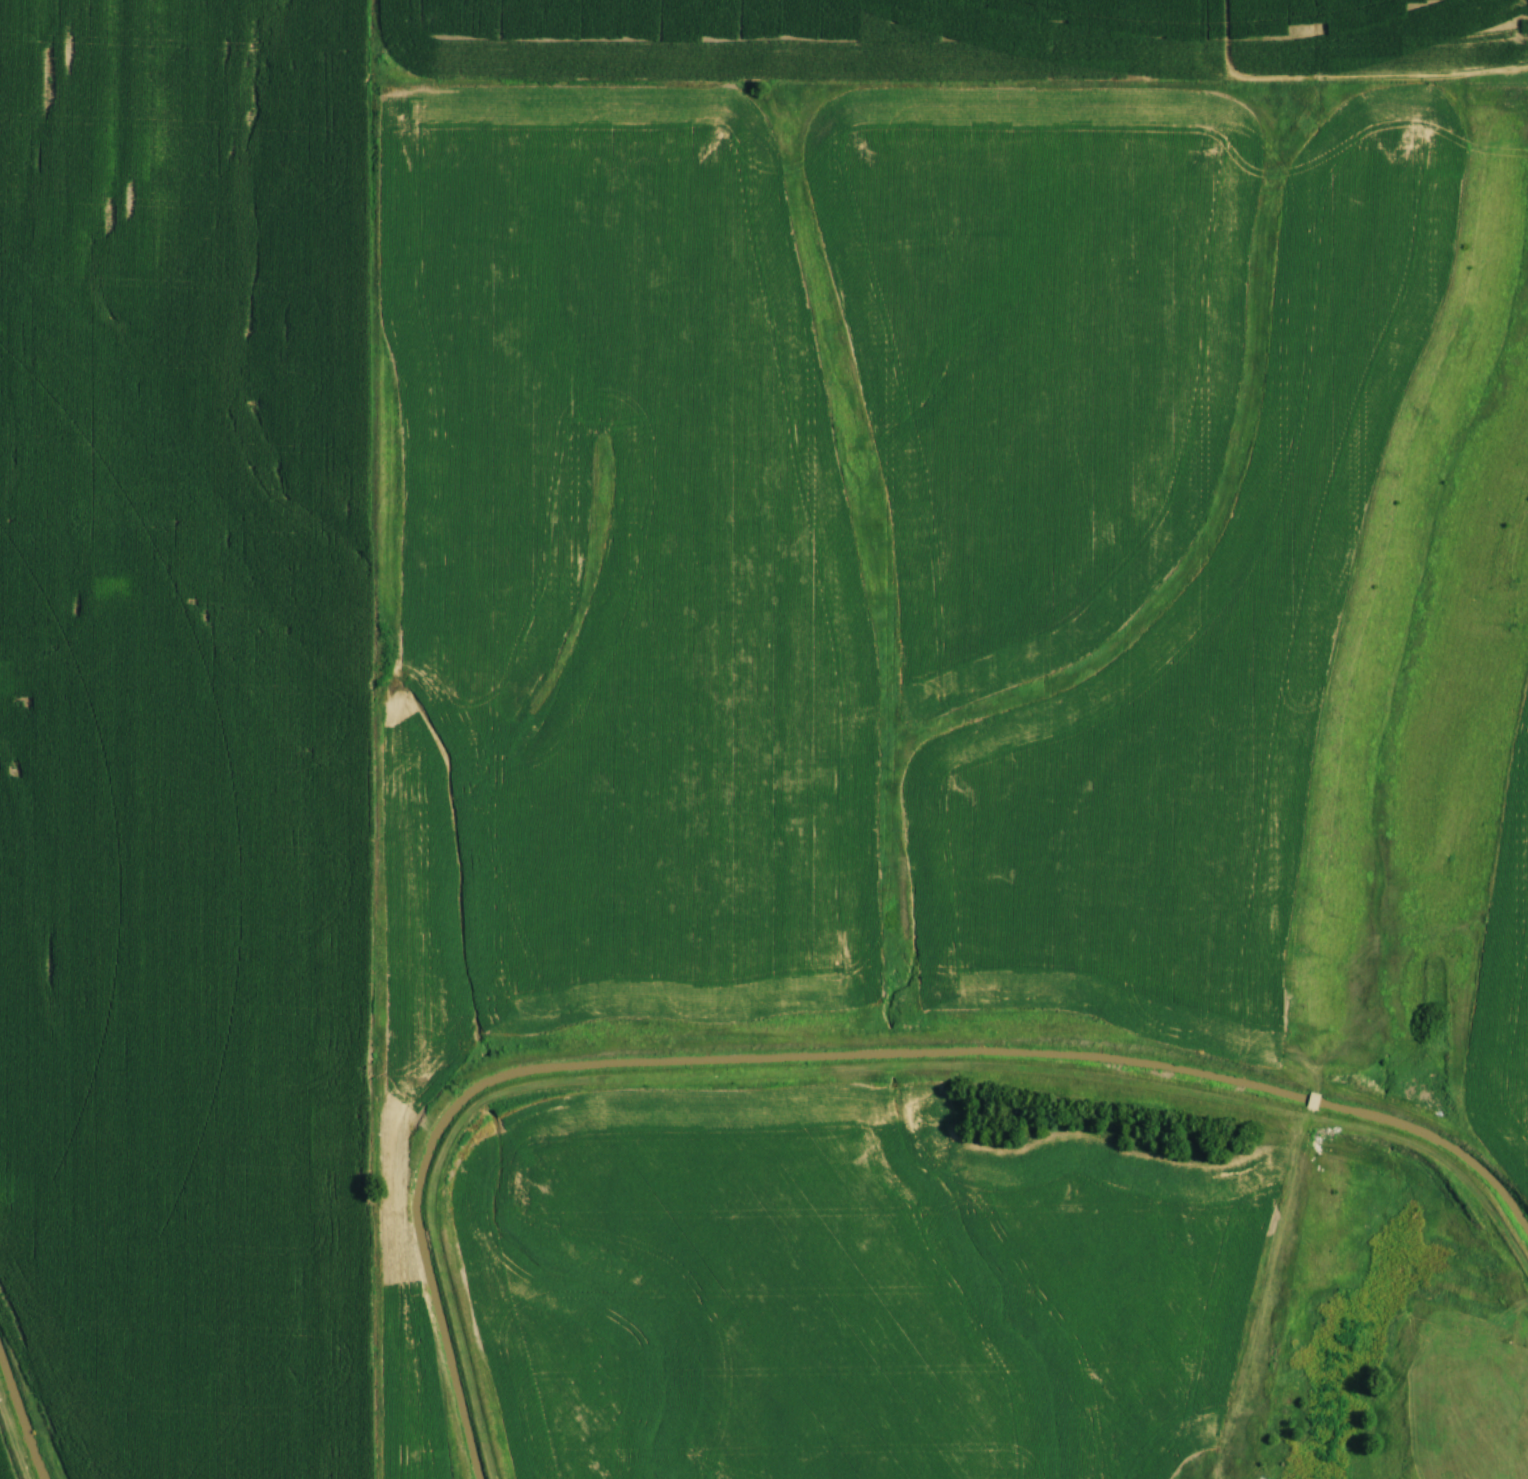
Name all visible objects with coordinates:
building: (1311, 1101)

